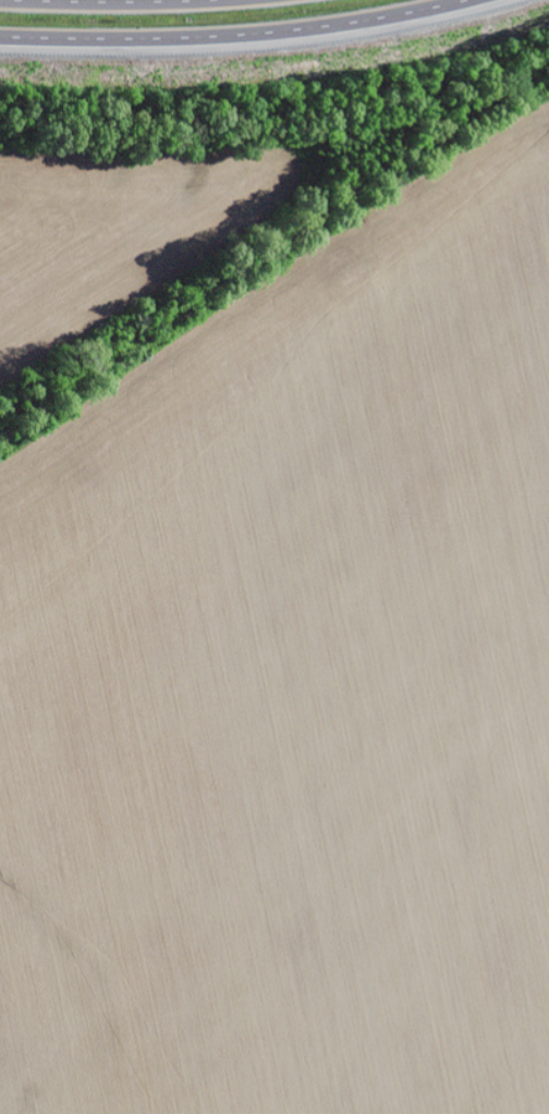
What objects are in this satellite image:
road: (113, 0)
road: (233, 35)

